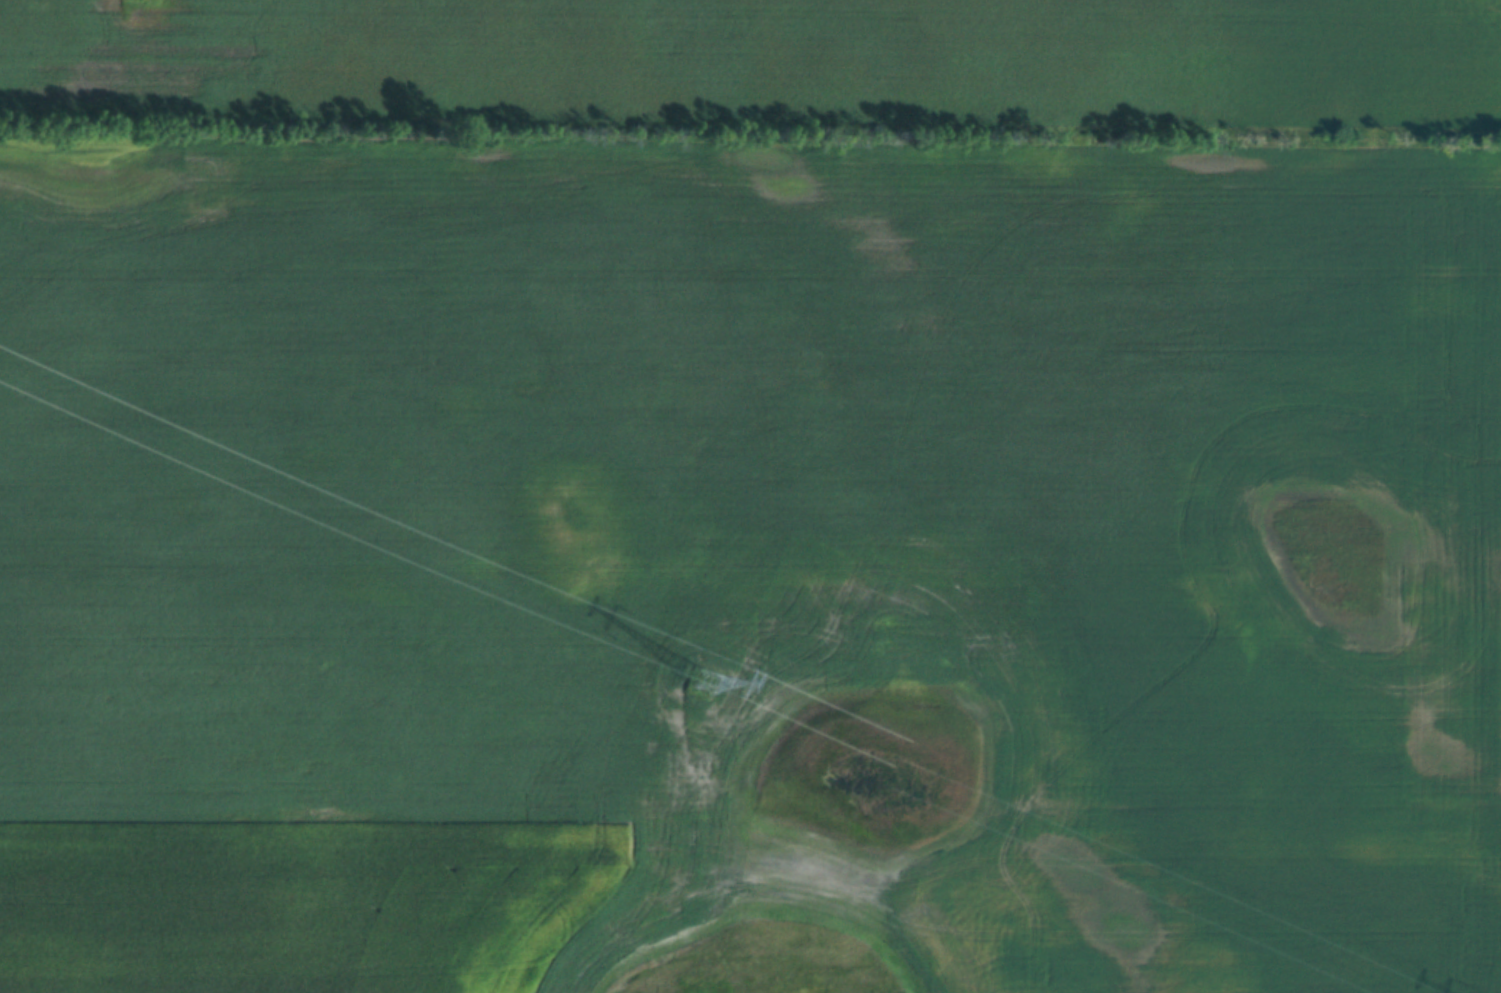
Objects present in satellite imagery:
power tower: (705, 682)

